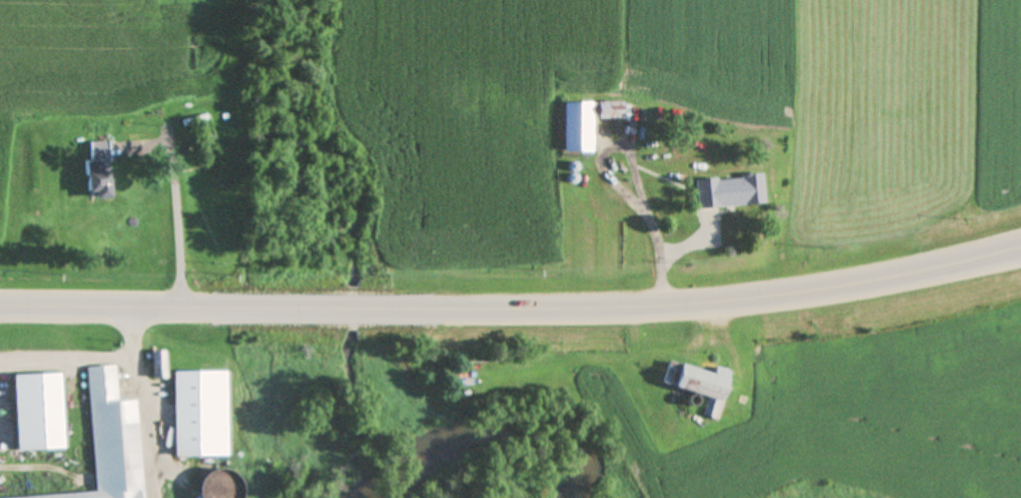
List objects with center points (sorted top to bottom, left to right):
building: (608, 110)
building: (572, 135)
building: (207, 151)
building: (97, 172)
building: (729, 191)
road: (178, 214)
road: (664, 272)
road: (513, 307)
road: (64, 329)
road: (66, 352)
building: (698, 383)
road: (139, 392)
building: (201, 414)
building: (109, 442)
river: (486, 446)
building: (218, 485)
river: (367, 496)

